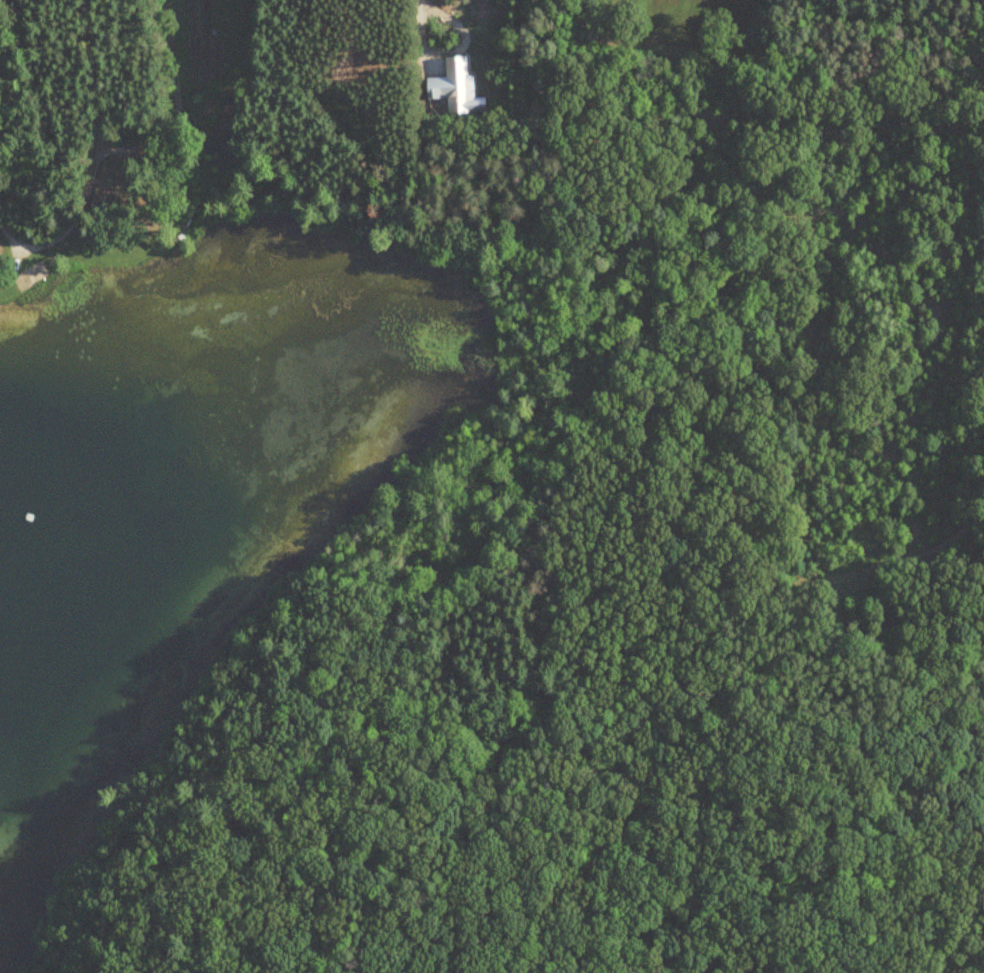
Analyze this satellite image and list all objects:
building: (589, 32)
road: (415, 37)
road: (161, 100)
road: (76, 137)
building: (109, 204)

